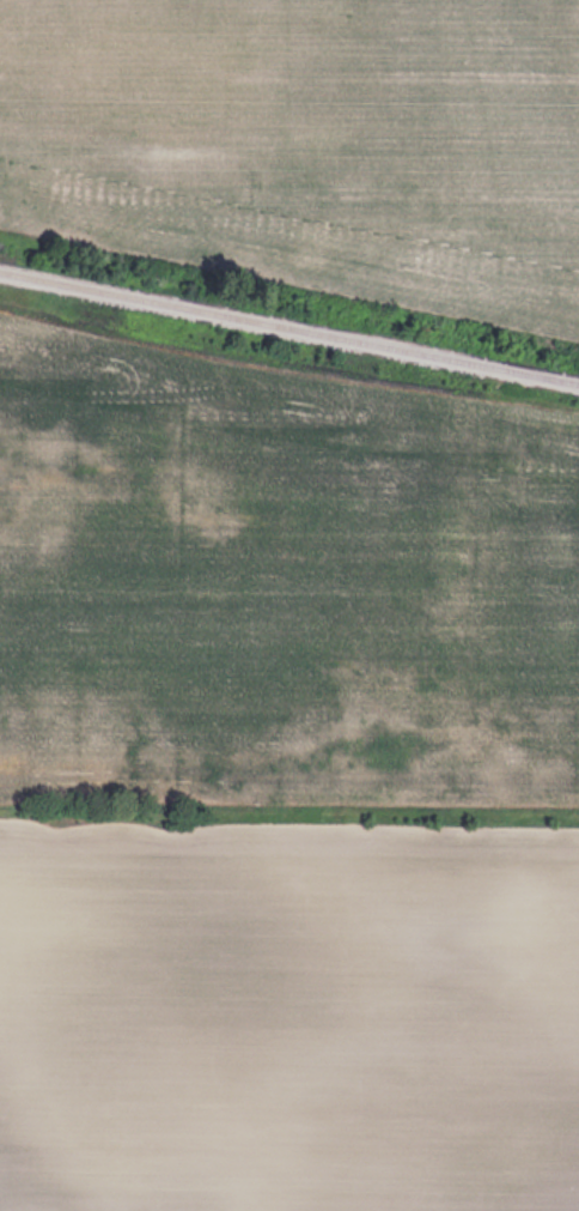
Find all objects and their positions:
railway: (289, 328)

